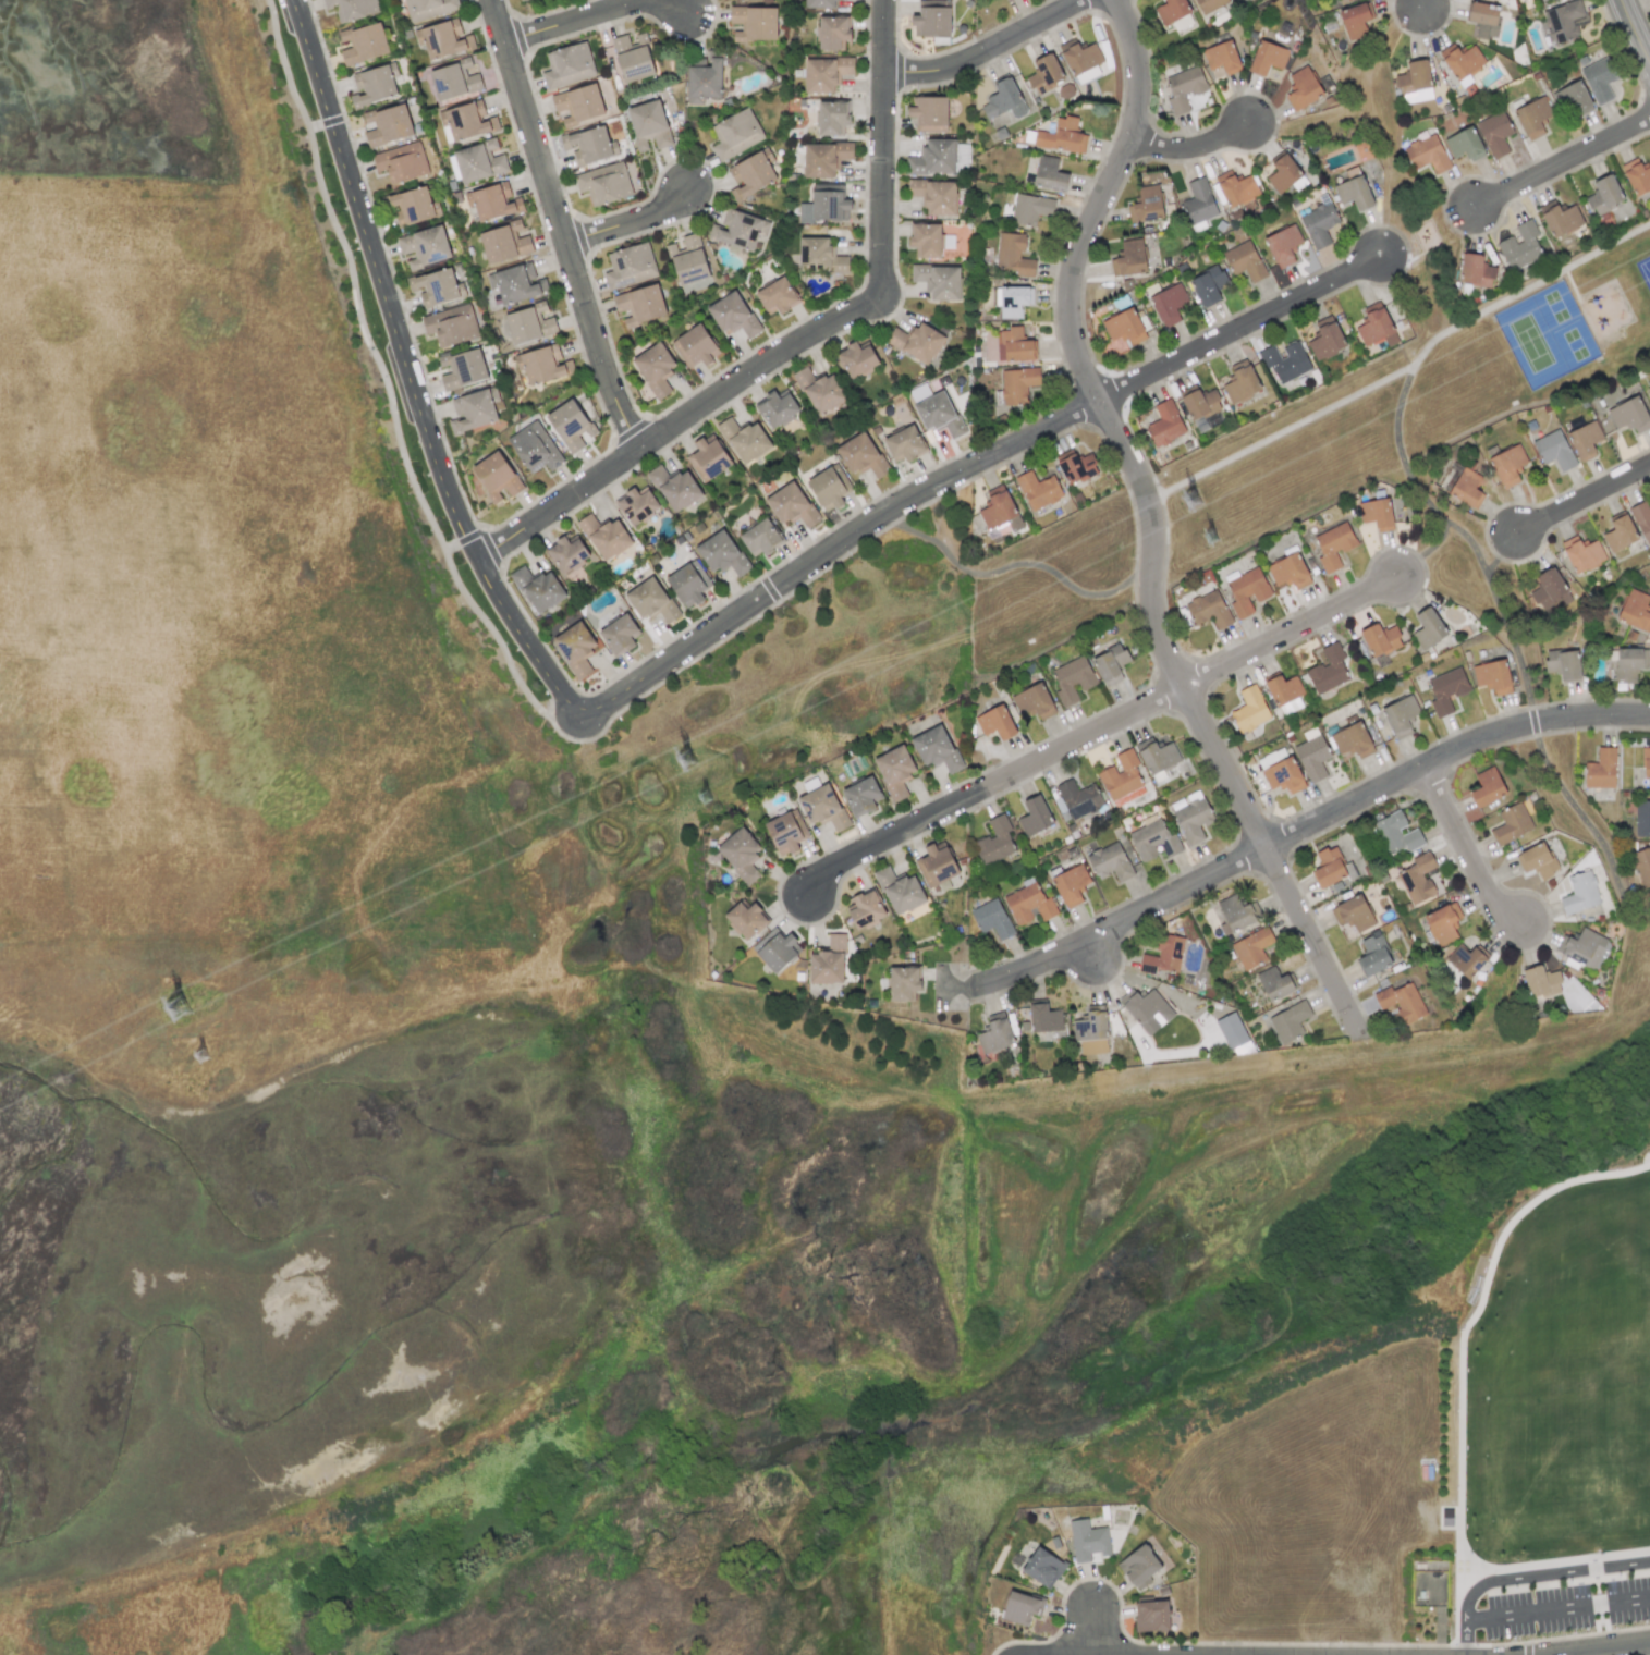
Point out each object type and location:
building: (1348, 0)
building: (819, 3)
road: (1423, 3)
building: (1209, 5)
building: (428, 8)
building: (352, 9)
building: (1174, 13)
road: (596, 16)
building: (1483, 19)
building: (1355, 20)
building: (931, 21)
building: (1563, 21)
building: (754, 23)
building: (832, 32)
road: (1633, 33)
building: (442, 39)
building: (364, 44)
road: (990, 53)
building: (633, 58)
building: (1222, 58)
building: (1267, 58)
building: (1460, 60)
building: (1081, 61)
building: (569, 65)
building: (824, 73)
building: (1044, 73)
building: (1414, 77)
building: (704, 78)
building: (454, 79)
building: (1599, 79)
building: (375, 85)
building: (1184, 88)
building: (1303, 88)
building: (1572, 99)
building: (1004, 100)
building: (578, 105)
building: (929, 113)
building: (832, 118)
building: (1532, 118)
building: (467, 121)
building: (388, 124)
building: (648, 124)
building: (1494, 133)
building: (735, 134)
building: (1060, 135)
building: (589, 145)
building: (1464, 145)
road: (1193, 151)
building: (1426, 154)
building: (824, 158)
building: (932, 158)
building: (479, 161)
building: (401, 162)
road: (1564, 164)
building: (751, 174)
building: (1284, 174)
building: (1049, 175)
building: (1636, 176)
building: (603, 183)
building: (1235, 188)
building: (1354, 189)
building: (1604, 194)
building: (934, 196)
building: (493, 201)
building: (1198, 203)
building: (1146, 205)
building: (413, 206)
building: (824, 207)
building: (1030, 209)
building: (1560, 218)
road: (559, 224)
road: (630, 224)
building: (1319, 224)
building: (740, 230)
building: (925, 240)
building: (504, 243)
building: (1283, 245)
building: (1520, 246)
building: (424, 247)
building: (821, 255)
building: (1013, 255)
building: (1128, 259)
building: (688, 260)
building: (1244, 261)
building: (630, 266)
building: (1476, 271)
park: (1645, 271)
building: (938, 281)
building: (516, 283)
building: (1208, 286)
building: (436, 287)
road: (878, 290)
road: (1532, 291)
building: (777, 296)
building: (1012, 301)
building: (1169, 304)
building: (640, 305)
building: (732, 315)
building: (451, 326)
building: (528, 326)
building: (1124, 327)
building: (1376, 327)
building: (1325, 339)
park: (1550, 340)
building: (917, 342)
building: (1015, 345)
building: (695, 346)
building: (856, 358)
building: (1285, 363)
building: (543, 365)
building: (655, 368)
building: (463, 369)
road: (406, 375)
building: (1240, 382)
building: (1017, 384)
road: (386, 385)
building: (1649, 389)
building: (820, 391)
building: (1199, 403)
building: (474, 409)
building: (777, 409)
building: (938, 414)
building: (1629, 415)
building: (1165, 424)
road: (1286, 431)
building: (744, 439)
park: (1335, 440)
building: (1585, 440)
building: (904, 444)
building: (535, 448)
building: (1553, 450)
building: (861, 455)
building: (708, 458)
building: (1507, 465)
building: (1075, 466)
road: (967, 471)
building: (497, 477)
building: (674, 488)
building: (829, 488)
building: (1467, 488)
building: (1038, 490)
power tower: (1190, 500)
road: (1585, 502)
road: (558, 504)
building: (637, 505)
building: (791, 505)
building: (999, 514)
building: (1377, 514)
road: (1153, 518)
building: (1642, 520)
building: (1620, 534)
building: (604, 536)
building: (760, 537)
power tower: (1210, 538)
building: (1333, 545)
building: (722, 553)
building: (1581, 553)
building: (567, 556)
road: (1428, 556)
road: (1504, 557)
road: (1018, 567)
building: (1288, 572)
building: (688, 584)
building: (1550, 588)
building: (538, 589)
building: (1247, 592)
building: (650, 600)
building: (1208, 610)
building: (1635, 611)
building: (1428, 628)
building: (619, 635)
road: (1513, 637)
building: (1380, 639)
building: (575, 649)
building: (1629, 663)
building: (1110, 664)
building: (1563, 664)
building: (1328, 670)
building: (1492, 676)
building: (1073, 681)
building: (1446, 689)
building: (1284, 694)
building: (1034, 701)
building: (1249, 710)
building: (1400, 715)
building: (995, 723)
road: (1098, 732)
building: (1352, 740)
building: (936, 748)
building: (1311, 755)
building: (1157, 756)
power tower: (685, 760)
building: (1646, 762)
building: (1601, 769)
building: (895, 771)
building: (1121, 775)
building: (1283, 775)
building: (1487, 787)
building: (861, 796)
power tower: (705, 798)
building: (1079, 798)
building: (822, 807)
building: (1035, 817)
building: (1191, 817)
building: (1641, 819)
building: (1512, 823)
building: (785, 832)
road: (1304, 832)
building: (1395, 834)
building: (1153, 841)
building: (994, 842)
road: (1466, 850)
building: (741, 855)
building: (1537, 860)
building: (1109, 862)
building: (1642, 865)
building: (936, 866)
building: (1328, 868)
building: (1417, 879)
building: (1071, 885)
building: (900, 891)
building: (1580, 893)
building: (1028, 904)
building: (866, 909)
building: (1353, 914)
building: (1234, 915)
building: (745, 919)
building: (991, 919)
building: (1442, 924)
building: (1251, 948)
building: (1584, 948)
building: (775, 949)
building: (1163, 955)
building: (1373, 955)
building: (1465, 960)
building: (828, 961)
building: (1541, 981)
building: (903, 982)
building: (1274, 983)
building: (1401, 1002)
power tower: (176, 1009)
building: (1144, 1009)
building: (1044, 1018)
building: (1290, 1021)
building: (1091, 1032)
building: (995, 1033)
power tower: (201, 1056)
road: (1462, 1357)
park: (1455, 1451)
building: (1447, 1518)
building: (1087, 1541)
building: (1138, 1565)
road: (1554, 1567)
building: (1042, 1568)
road: (1530, 1580)
building: (1020, 1608)
road: (1557, 1611)
parking lot: (1559, 1613)
building: (1151, 1616)
road: (1091, 1633)
road: (1605, 1650)

